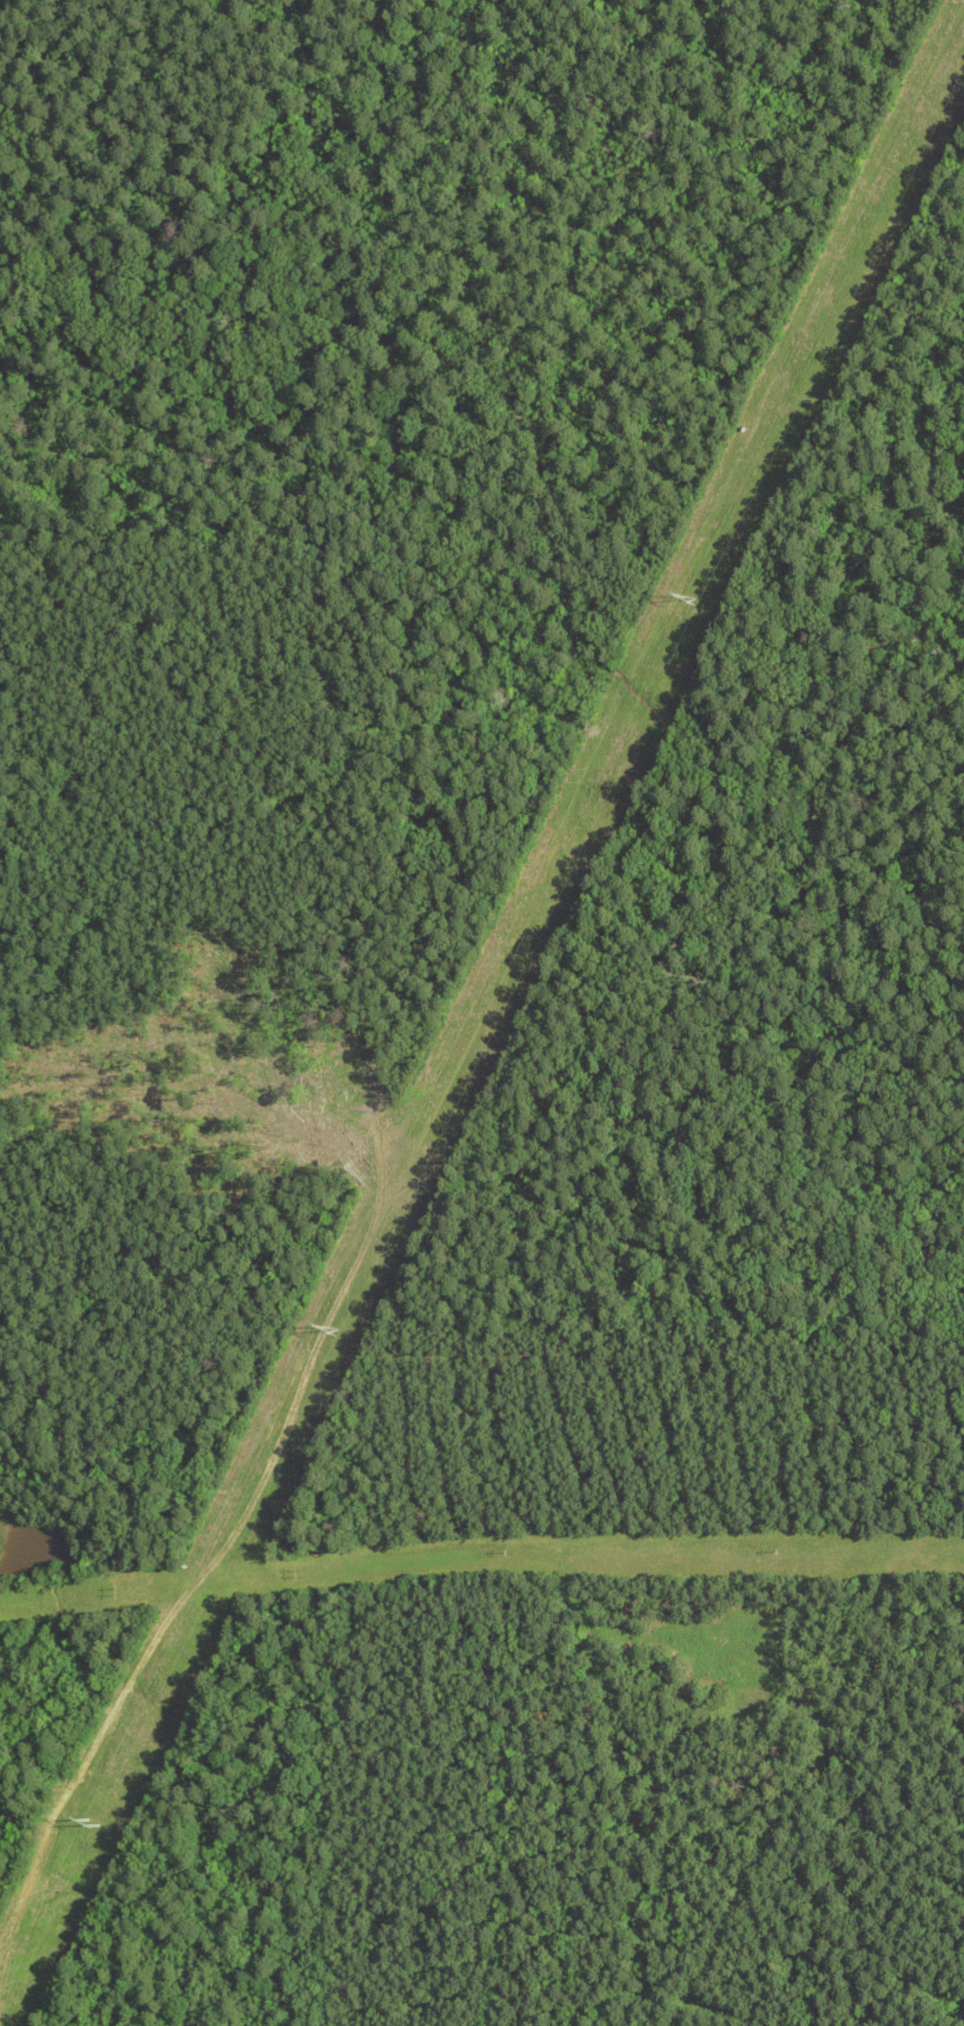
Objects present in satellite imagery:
power tower: (691, 599)
power tower: (332, 1331)

